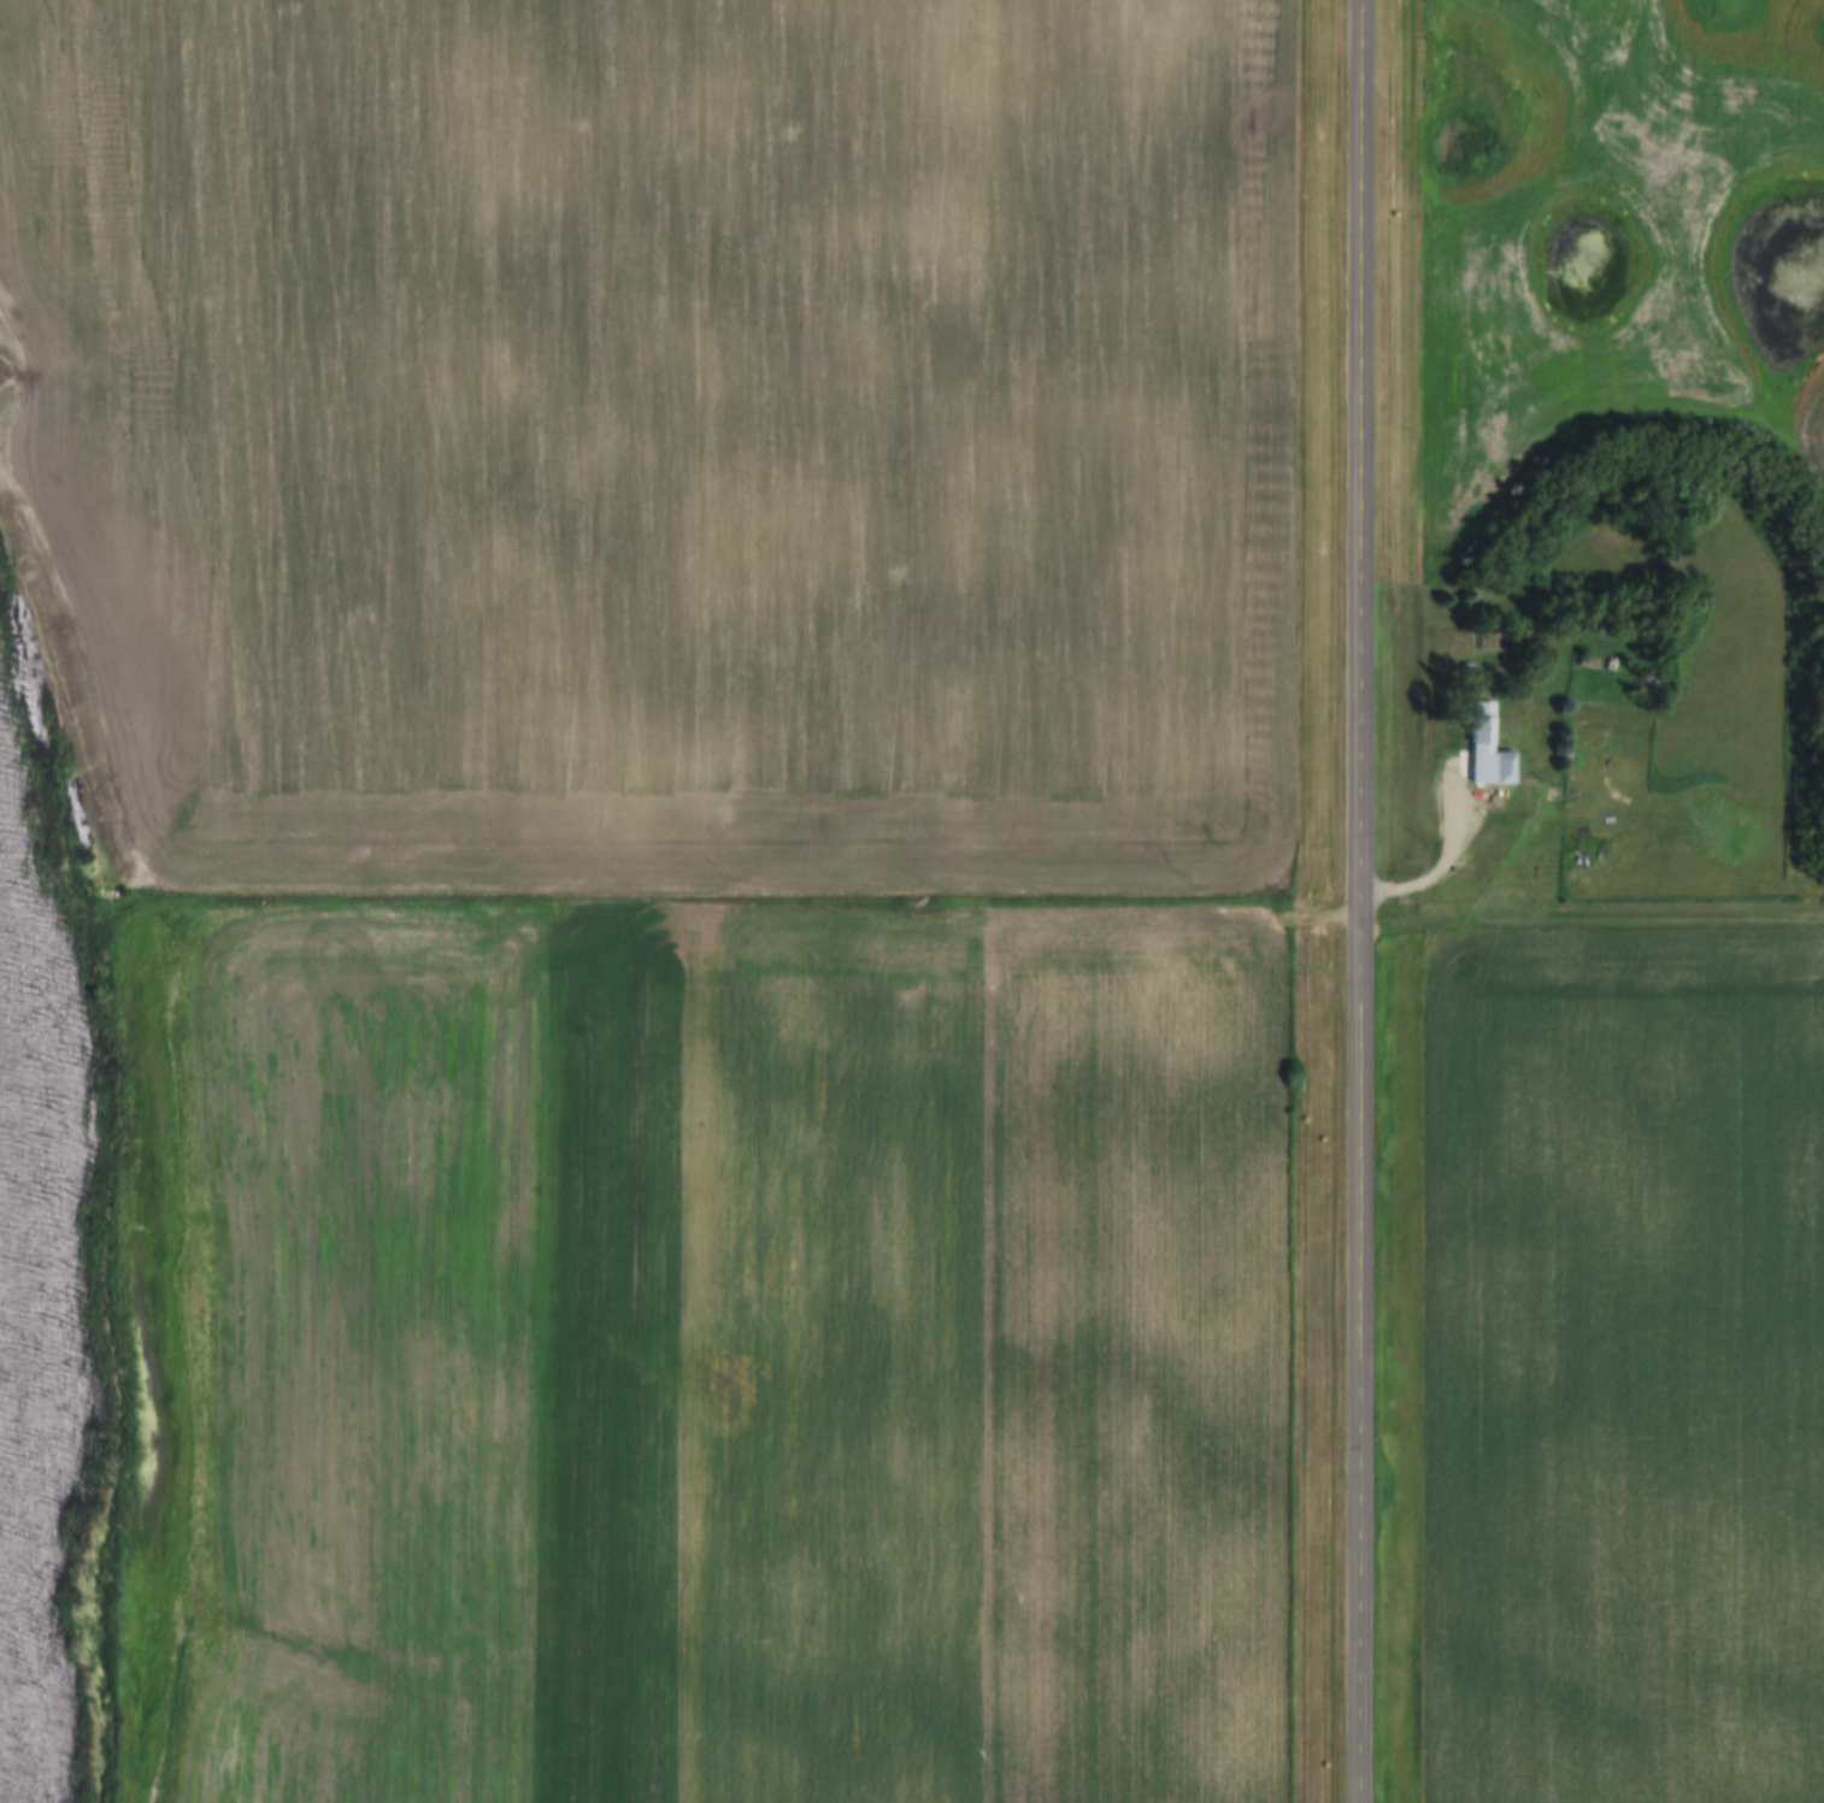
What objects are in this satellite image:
building: (1589, 662)
building: (1648, 689)
building: (1487, 750)
road: (1448, 871)
road: (1360, 901)

